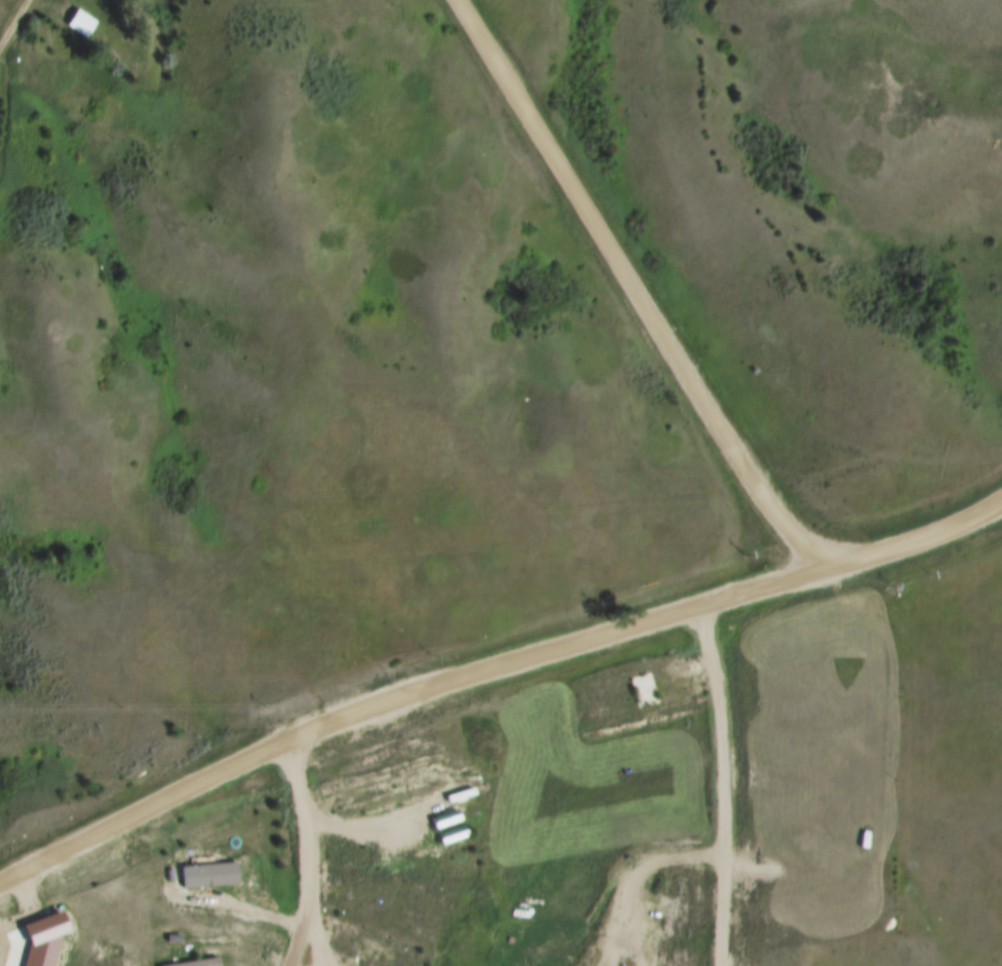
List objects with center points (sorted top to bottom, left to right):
building: (72, 20)
road: (15, 26)
road: (633, 292)
road: (489, 671)
building: (641, 689)
building: (450, 827)
road: (310, 853)
building: (214, 876)
building: (208, 963)

